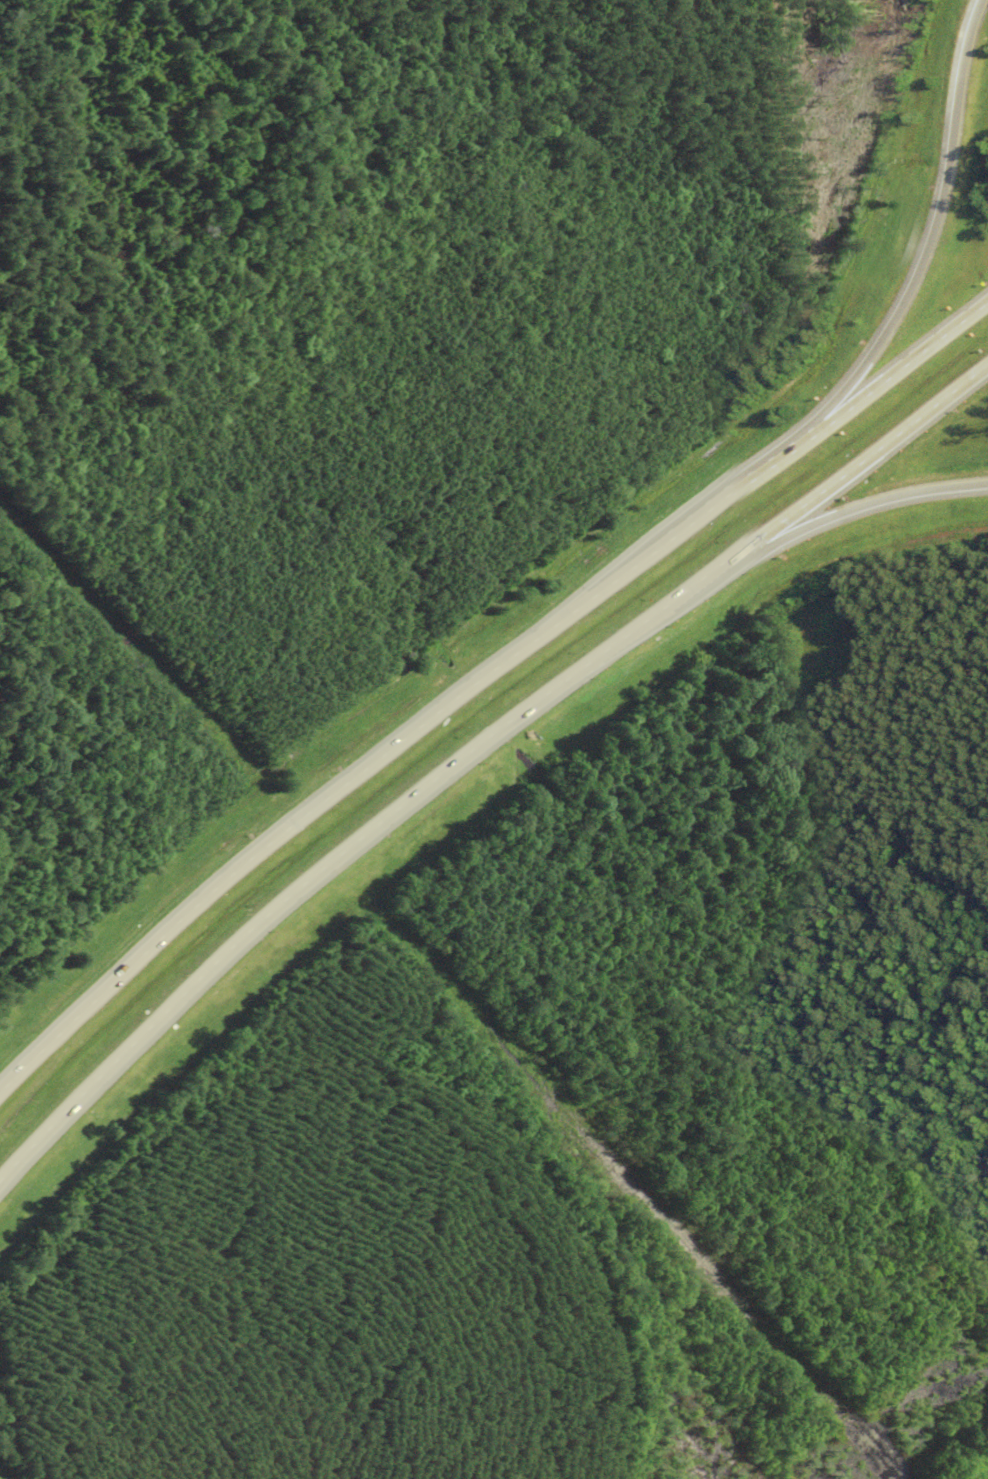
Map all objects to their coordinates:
road: (922, 235)
road: (863, 455)
road: (859, 504)
road: (482, 680)
road: (505, 728)
road: (135, 1043)

